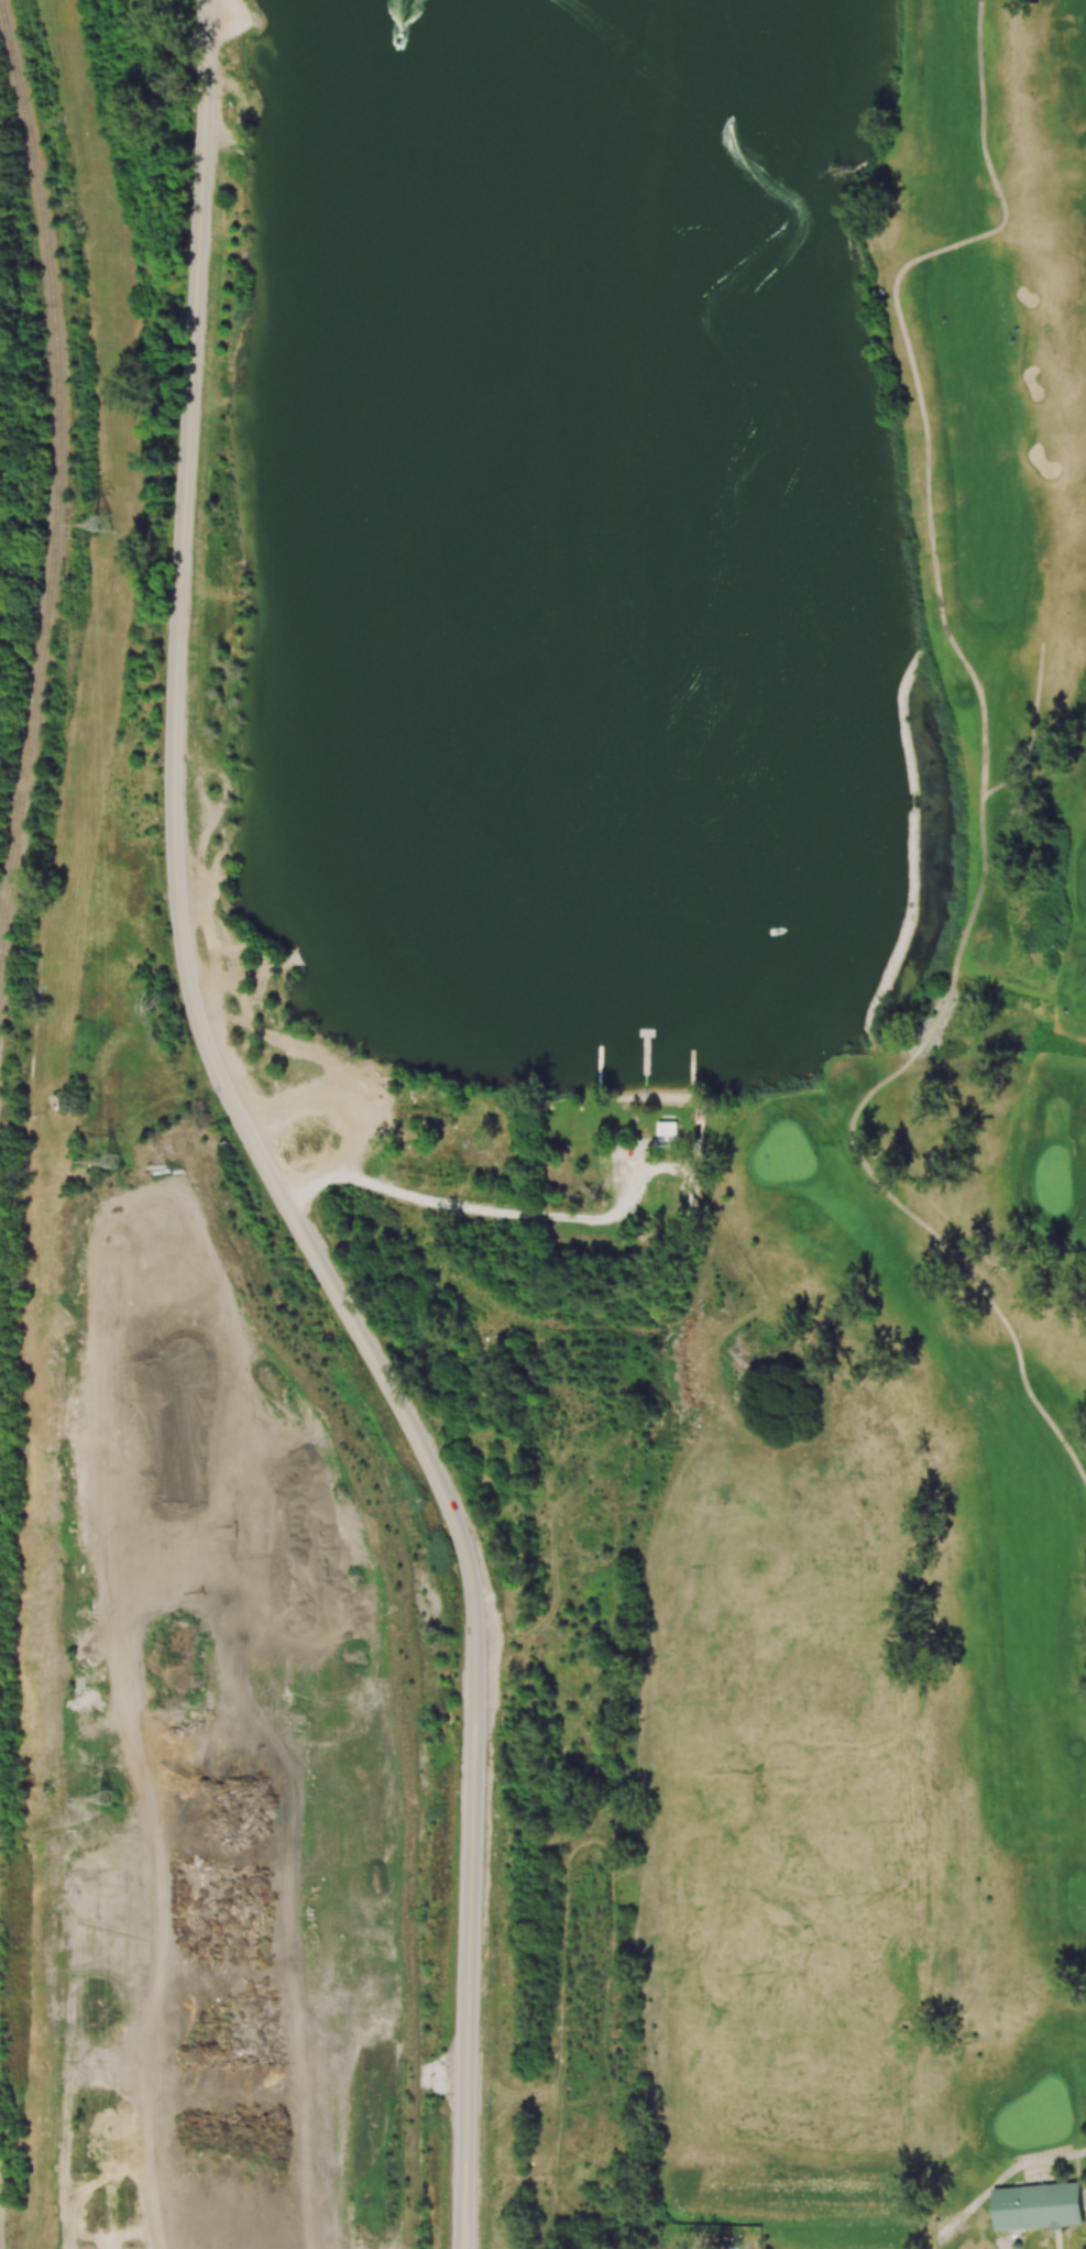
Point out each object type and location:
railway: (59, 481)
power tower: (102, 523)
road: (1031, 731)
road: (983, 758)
park: (318, 1117)
building: (666, 1129)
road: (253, 1143)
power tower: (112, 1162)
park: (898, 1334)
power tower: (107, 1796)
road: (1020, 2164)
building: (1036, 2206)

